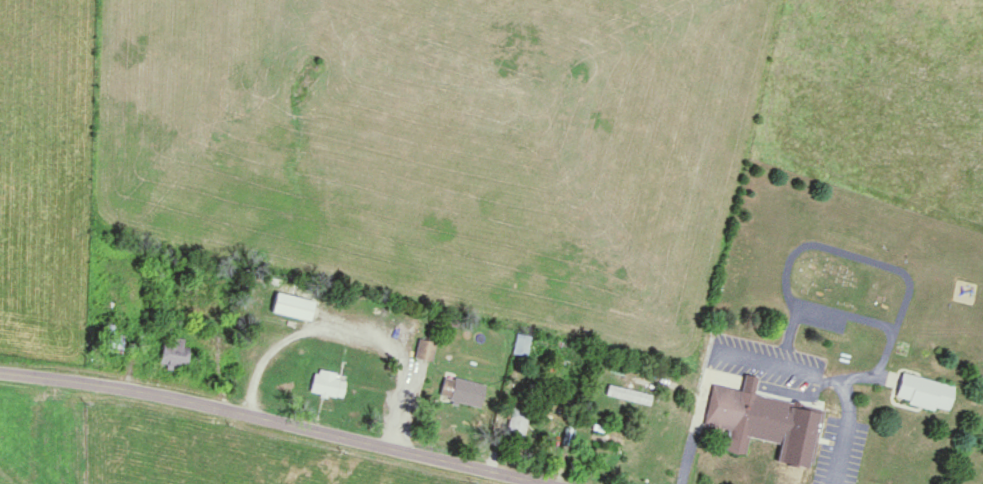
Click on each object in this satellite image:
building: (293, 306)
road: (354, 329)
building: (113, 340)
building: (426, 350)
building: (176, 354)
building: (330, 384)
building: (464, 392)
building: (925, 392)
building: (746, 417)
road: (278, 419)
building: (518, 423)

